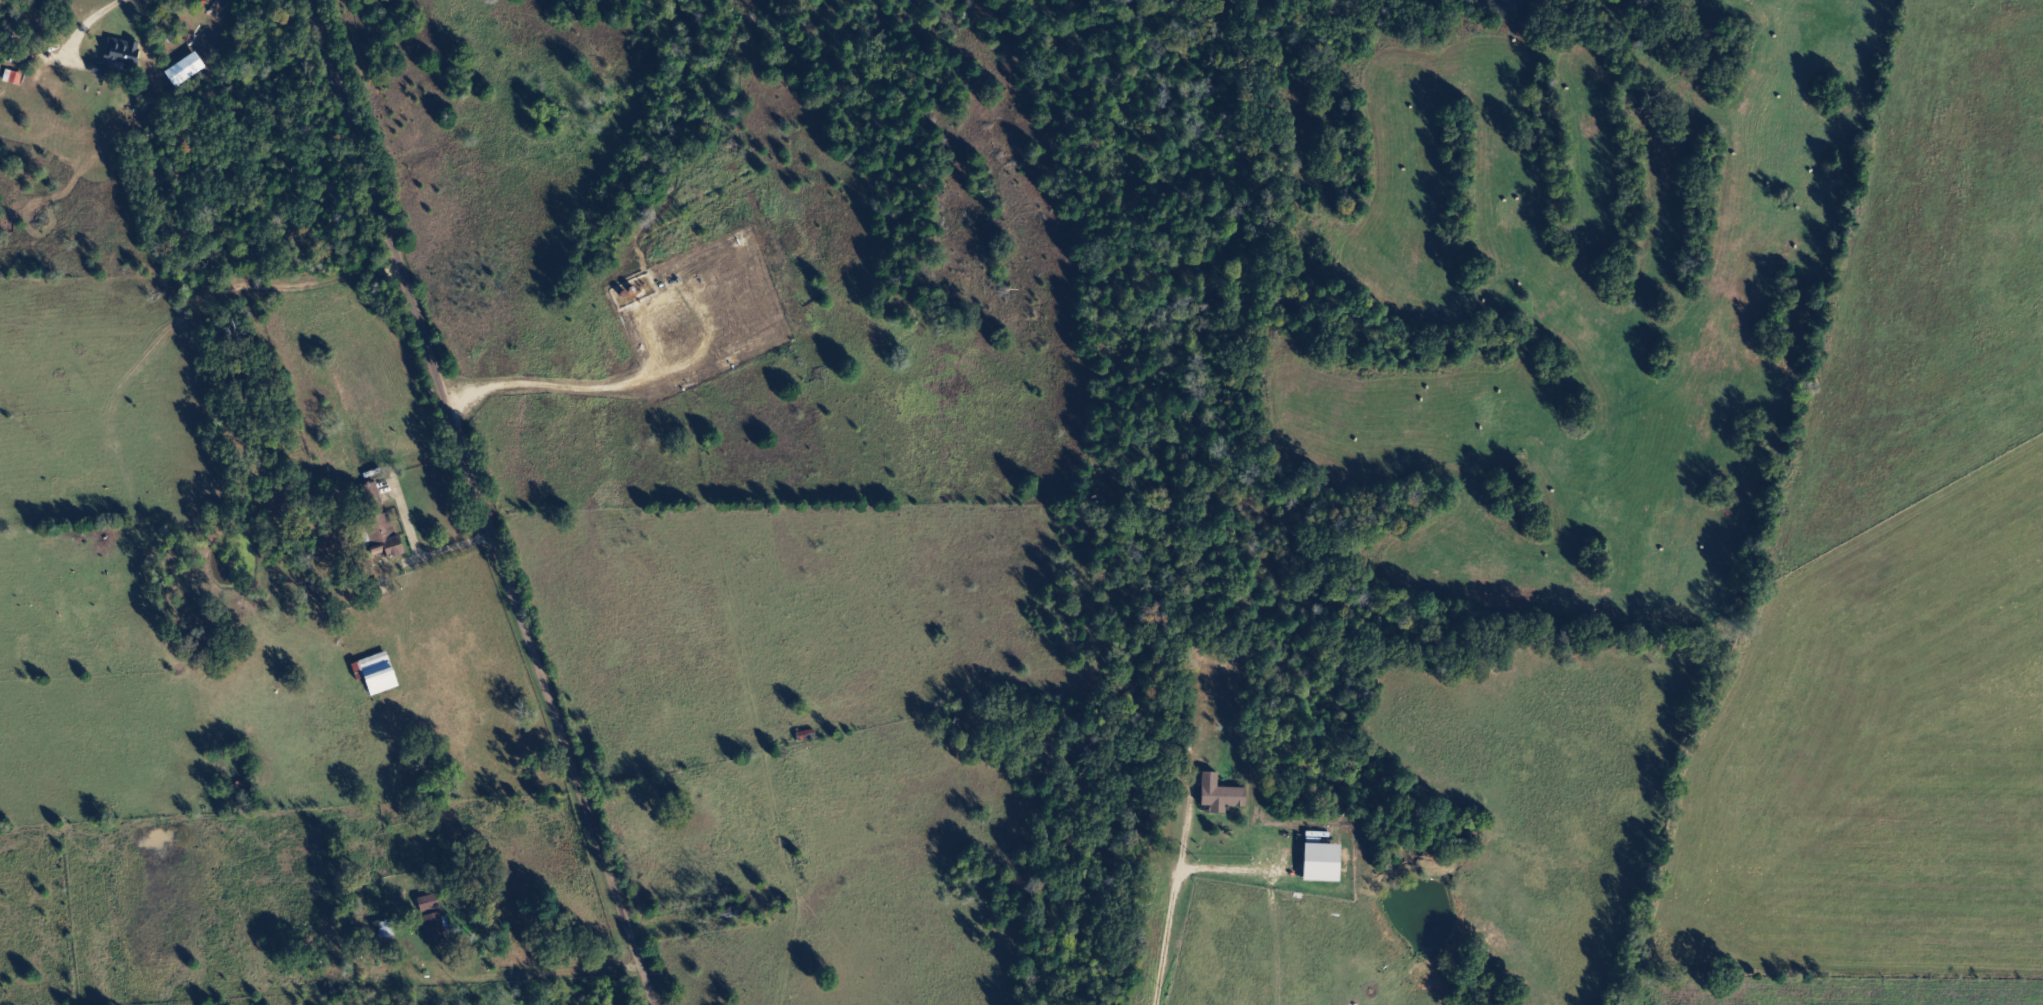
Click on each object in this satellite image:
building: (121, 58)
building: (14, 78)
road: (505, 505)
building: (386, 538)
building: (380, 673)
road: (290, 773)
building: (1223, 795)
building: (1326, 863)
building: (432, 903)
building: (438, 929)

